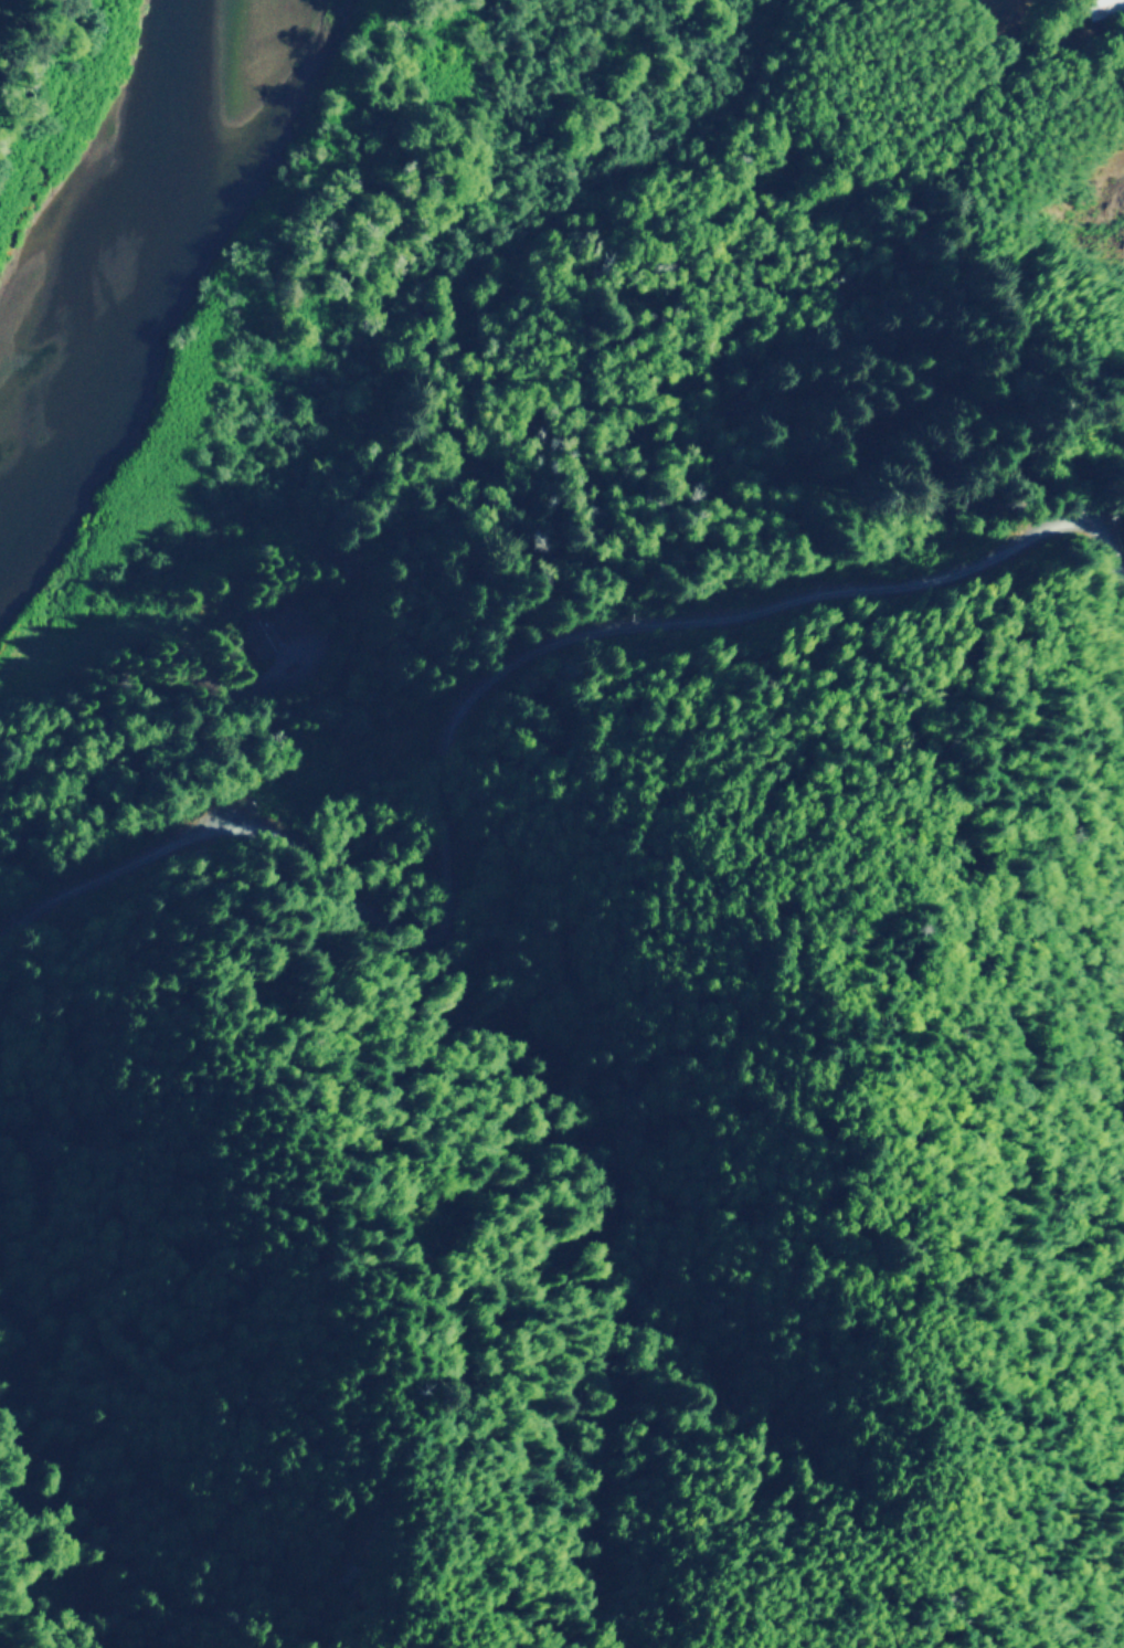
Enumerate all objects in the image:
crop: (1012, 3)
building: (1103, 6)
river: (110, 260)
road: (553, 666)
road: (115, 729)

